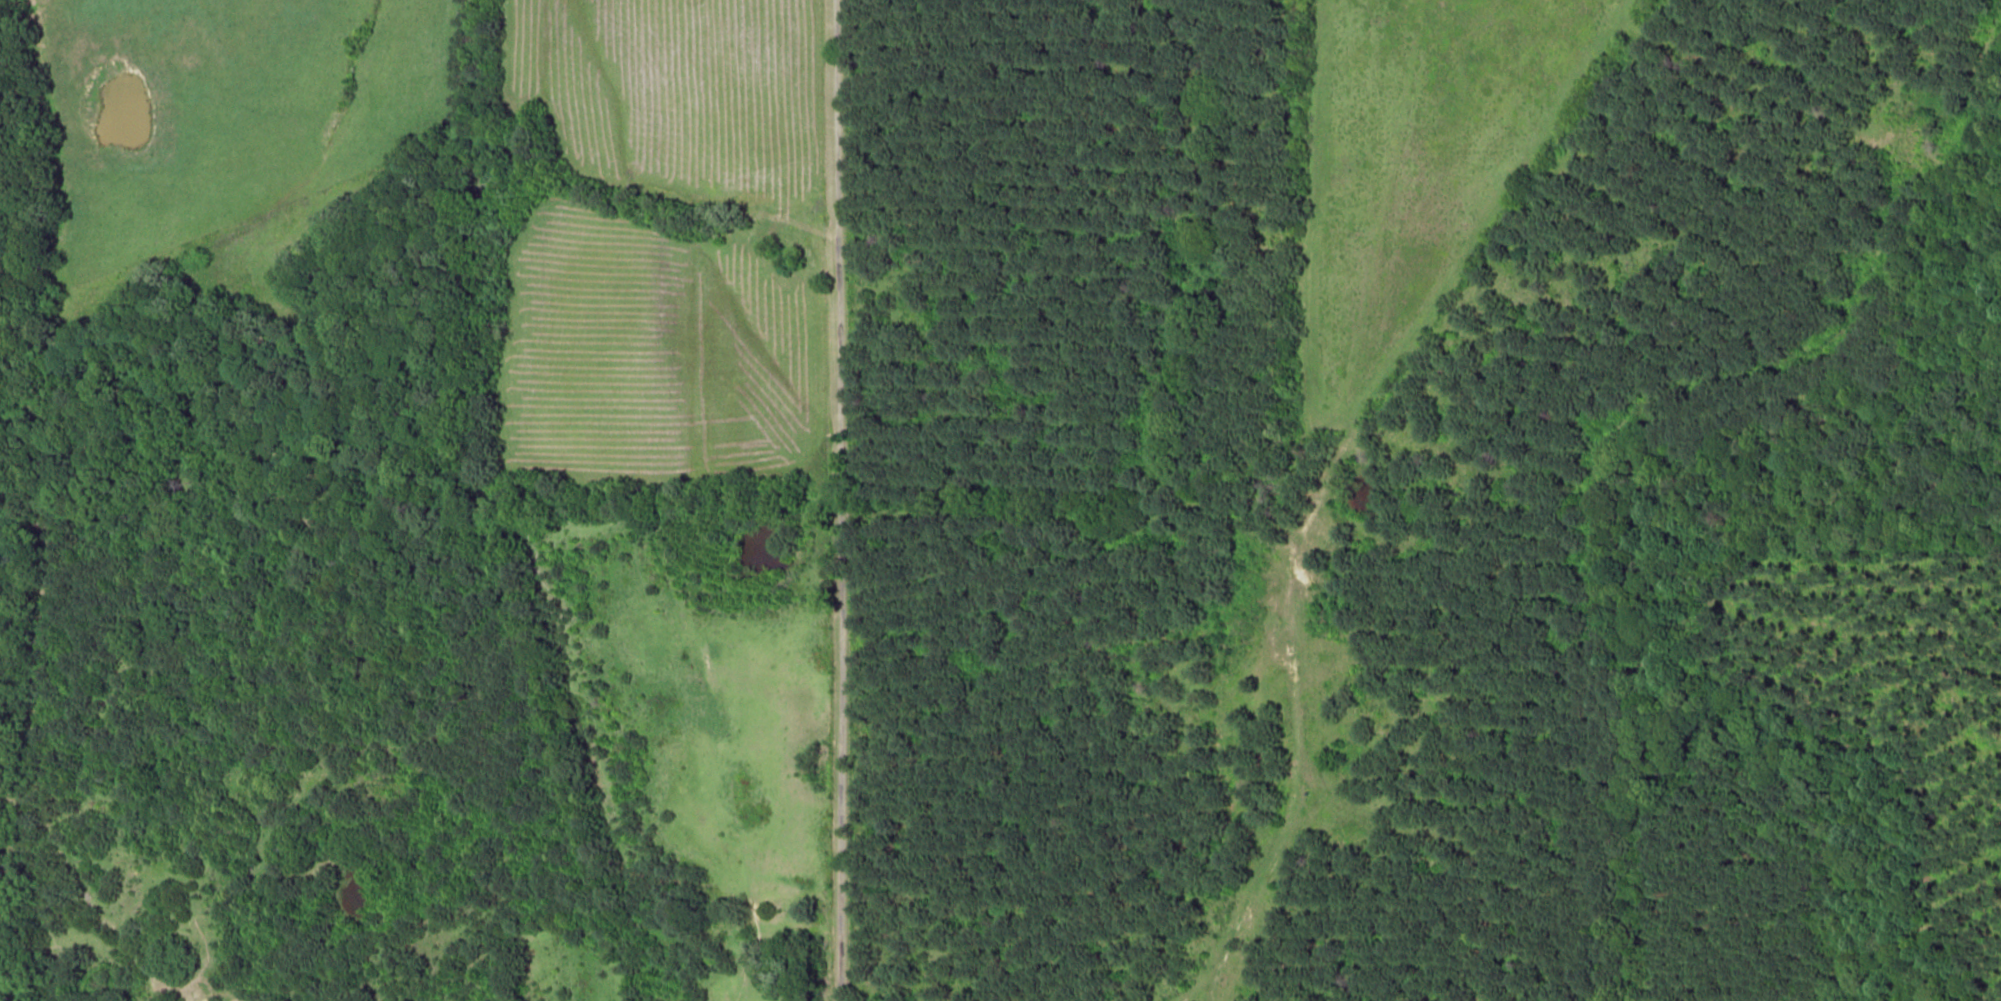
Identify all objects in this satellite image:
road: (848, 500)

